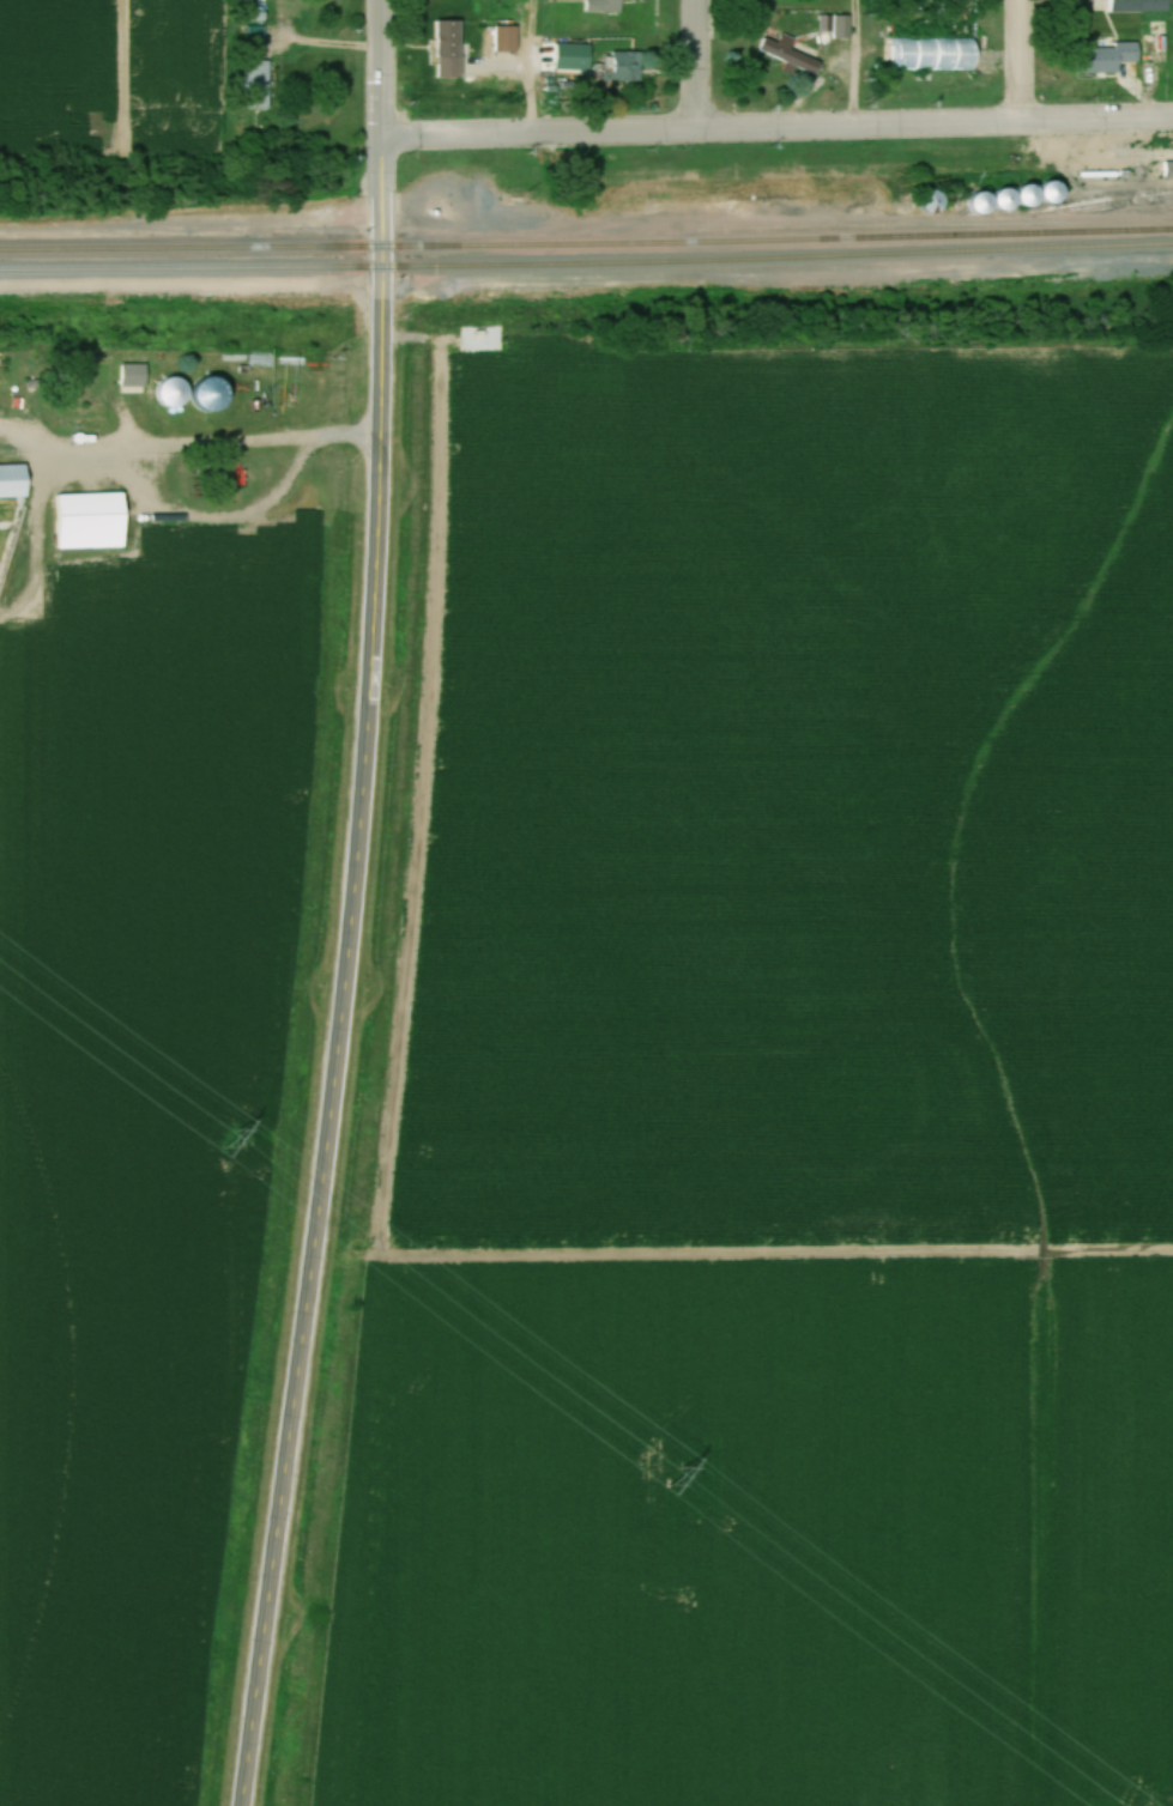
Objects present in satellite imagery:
building: (605, 6)
building: (1142, 6)
building: (508, 38)
building: (451, 49)
building: (935, 55)
building: (791, 56)
building: (1115, 56)
road: (1020, 62)
road: (857, 65)
building: (628, 66)
road: (697, 66)
road: (534, 67)
road: (386, 68)
building: (258, 83)
road: (779, 129)
building: (1168, 169)
building: (1057, 193)
building: (1022, 198)
building: (931, 201)
railway: (1123, 201)
building: (981, 204)
railway: (896, 235)
railway: (310, 247)
railway: (586, 266)
building: (83, 333)
road: (237, 443)
building: (92, 522)
crop: (800, 771)
road: (347, 974)
power tower: (234, 1141)
power tower: (679, 1479)
crop: (1024, 1528)
crop: (607, 1534)

